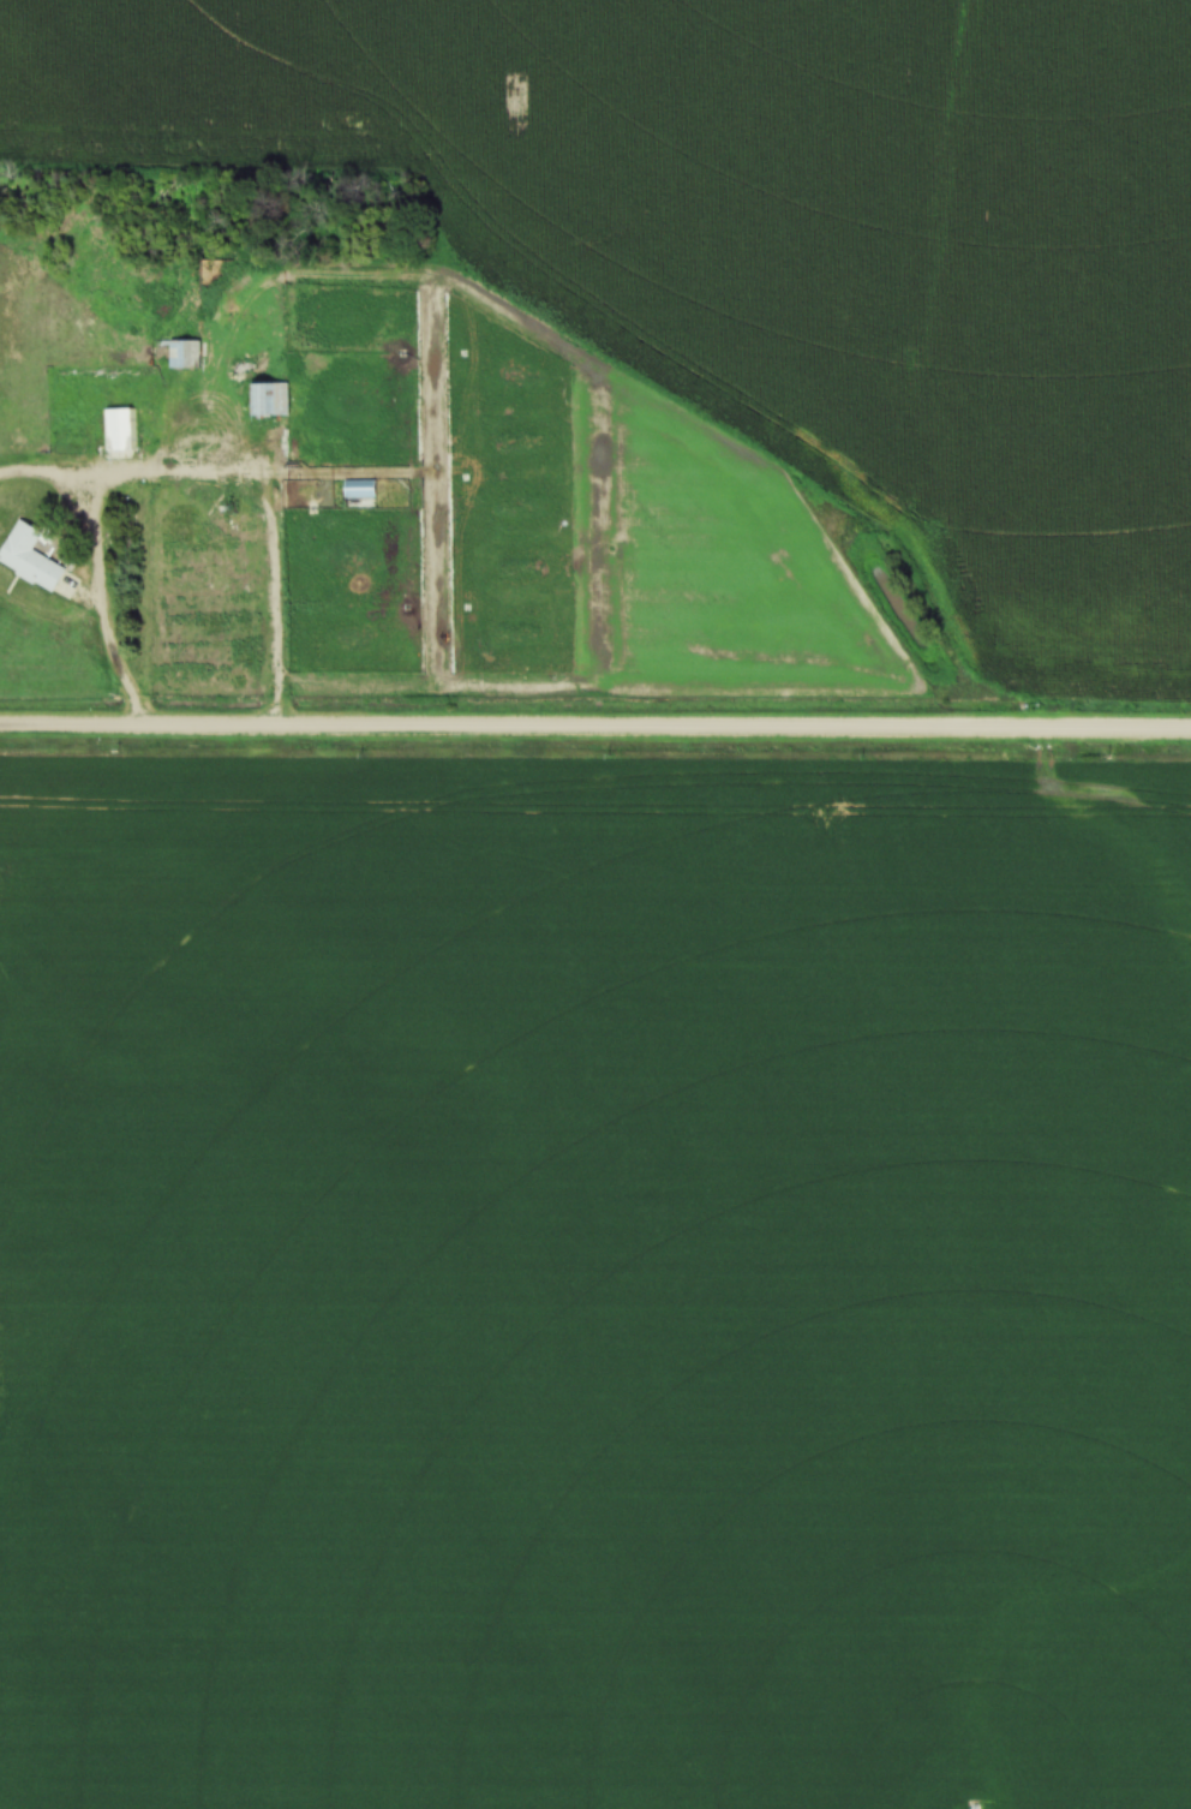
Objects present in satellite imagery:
crop: (784, 238)
building: (186, 348)
building: (269, 399)
building: (119, 429)
road: (124, 468)
building: (361, 488)
building: (31, 555)
road: (100, 603)
road: (594, 726)
crop: (594, 1280)

